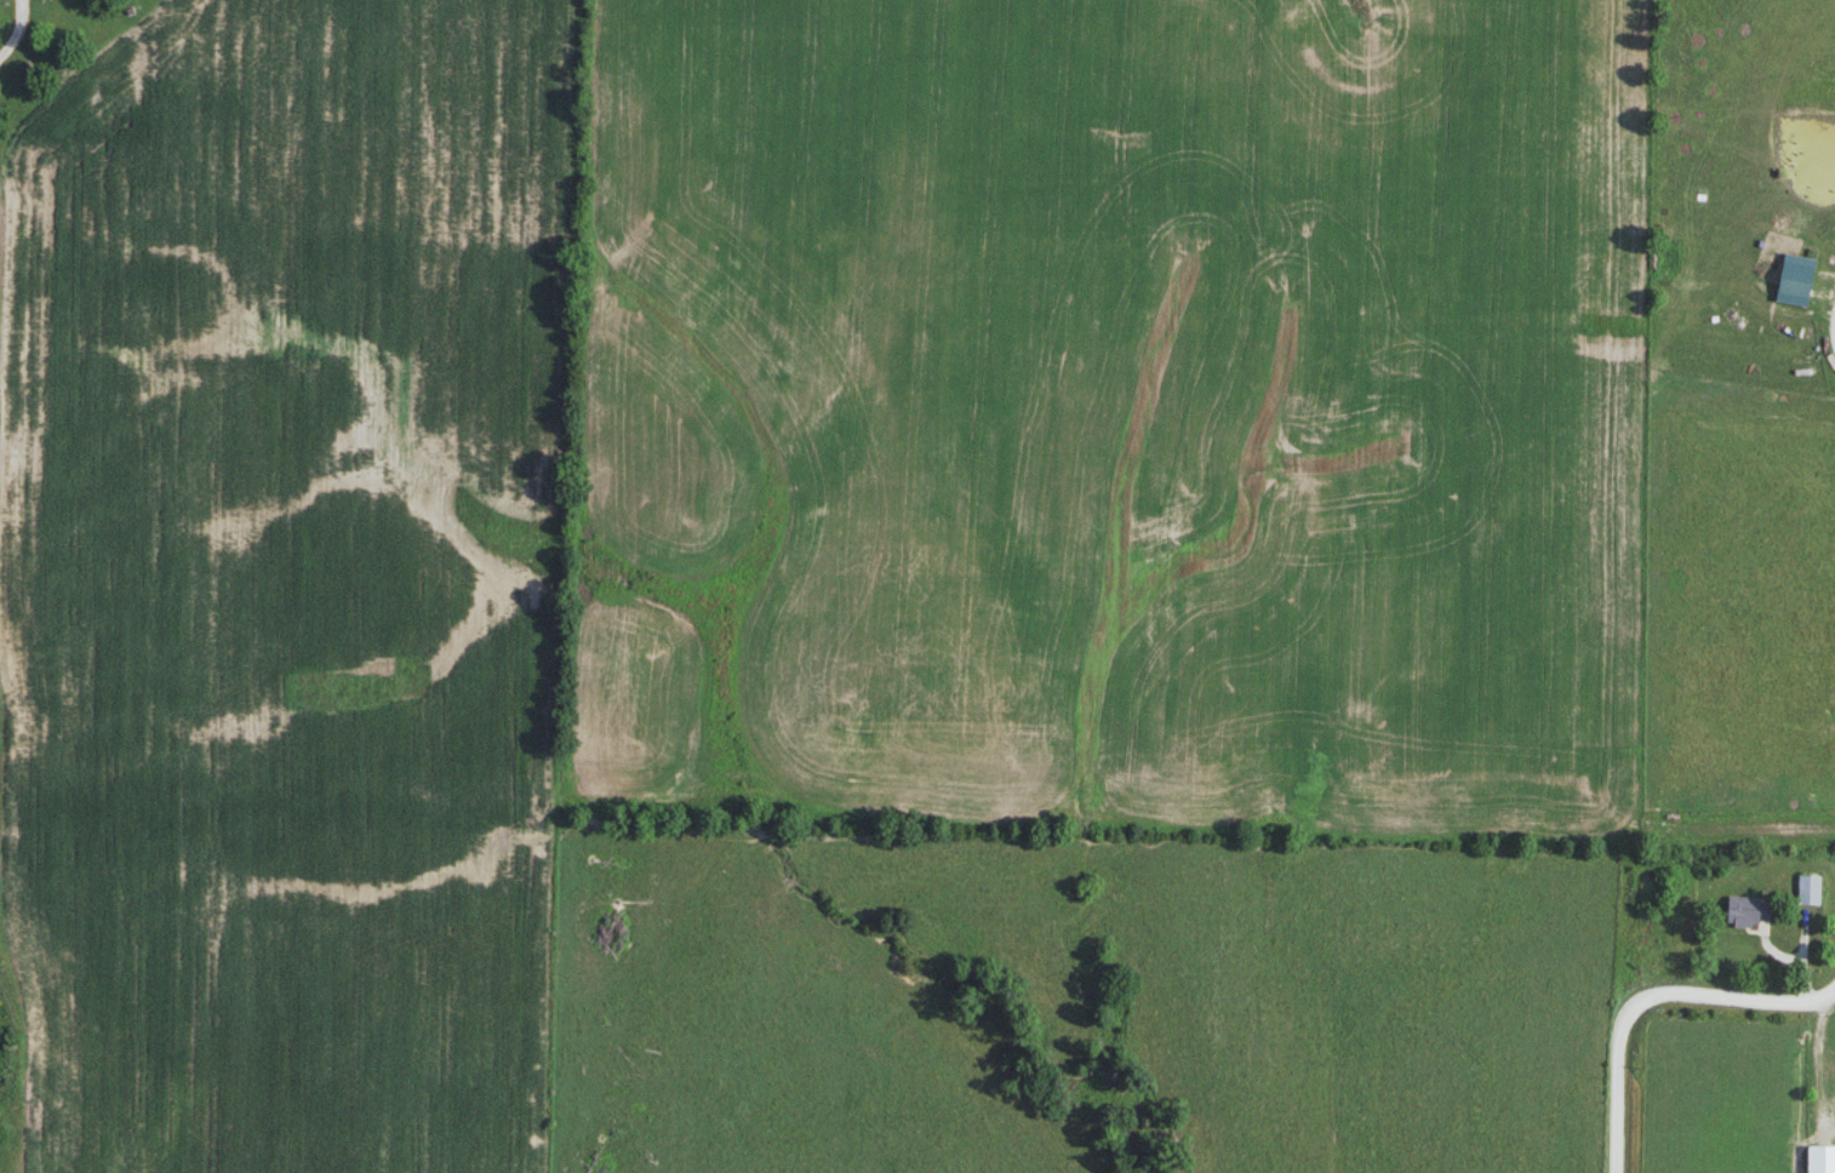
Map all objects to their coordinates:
road: (24, 36)
road: (1830, 327)
building: (1810, 888)
building: (1747, 910)
road: (1654, 1001)
building: (1822, 1158)

